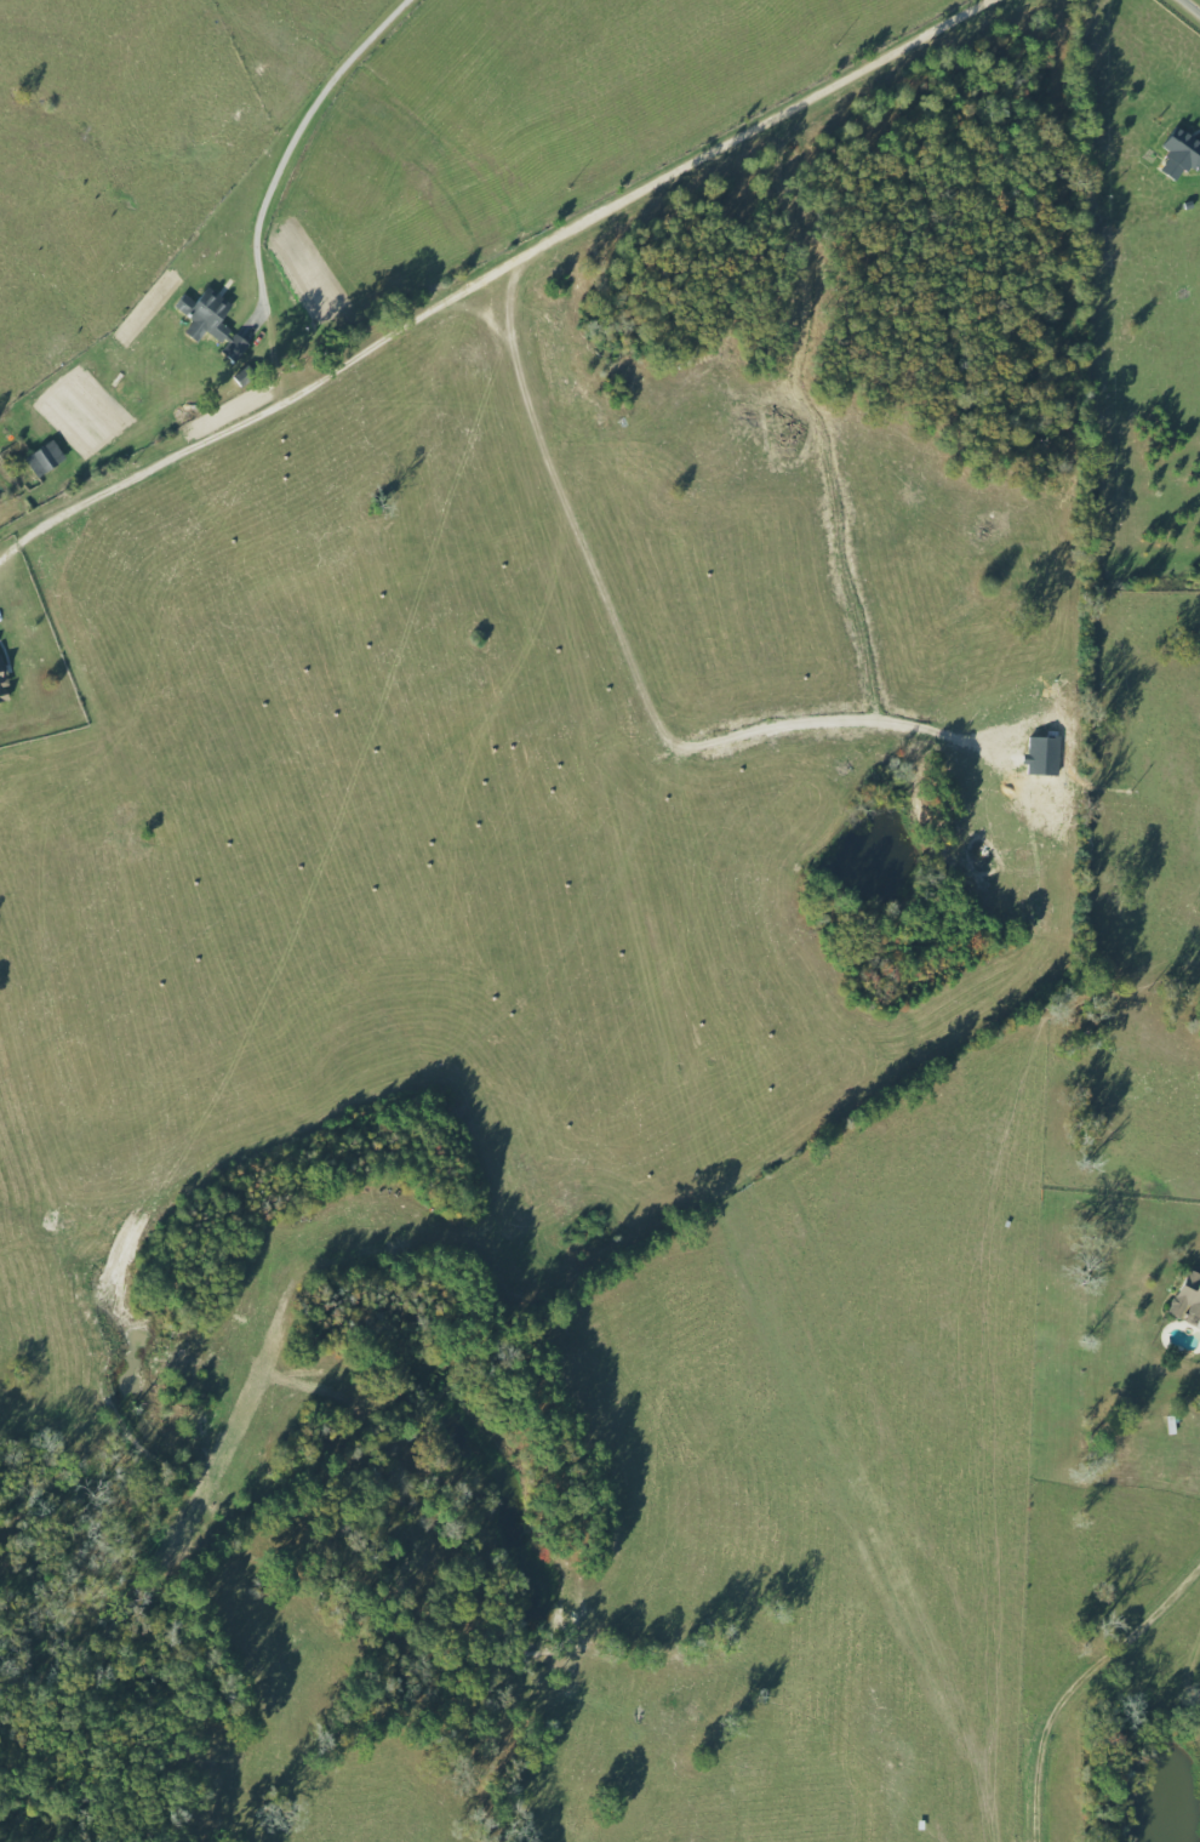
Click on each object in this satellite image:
road: (1194, 4)
road: (296, 138)
building: (1184, 152)
road: (488, 276)
building: (218, 321)
building: (51, 458)
building: (6, 683)
building: (1190, 1295)

